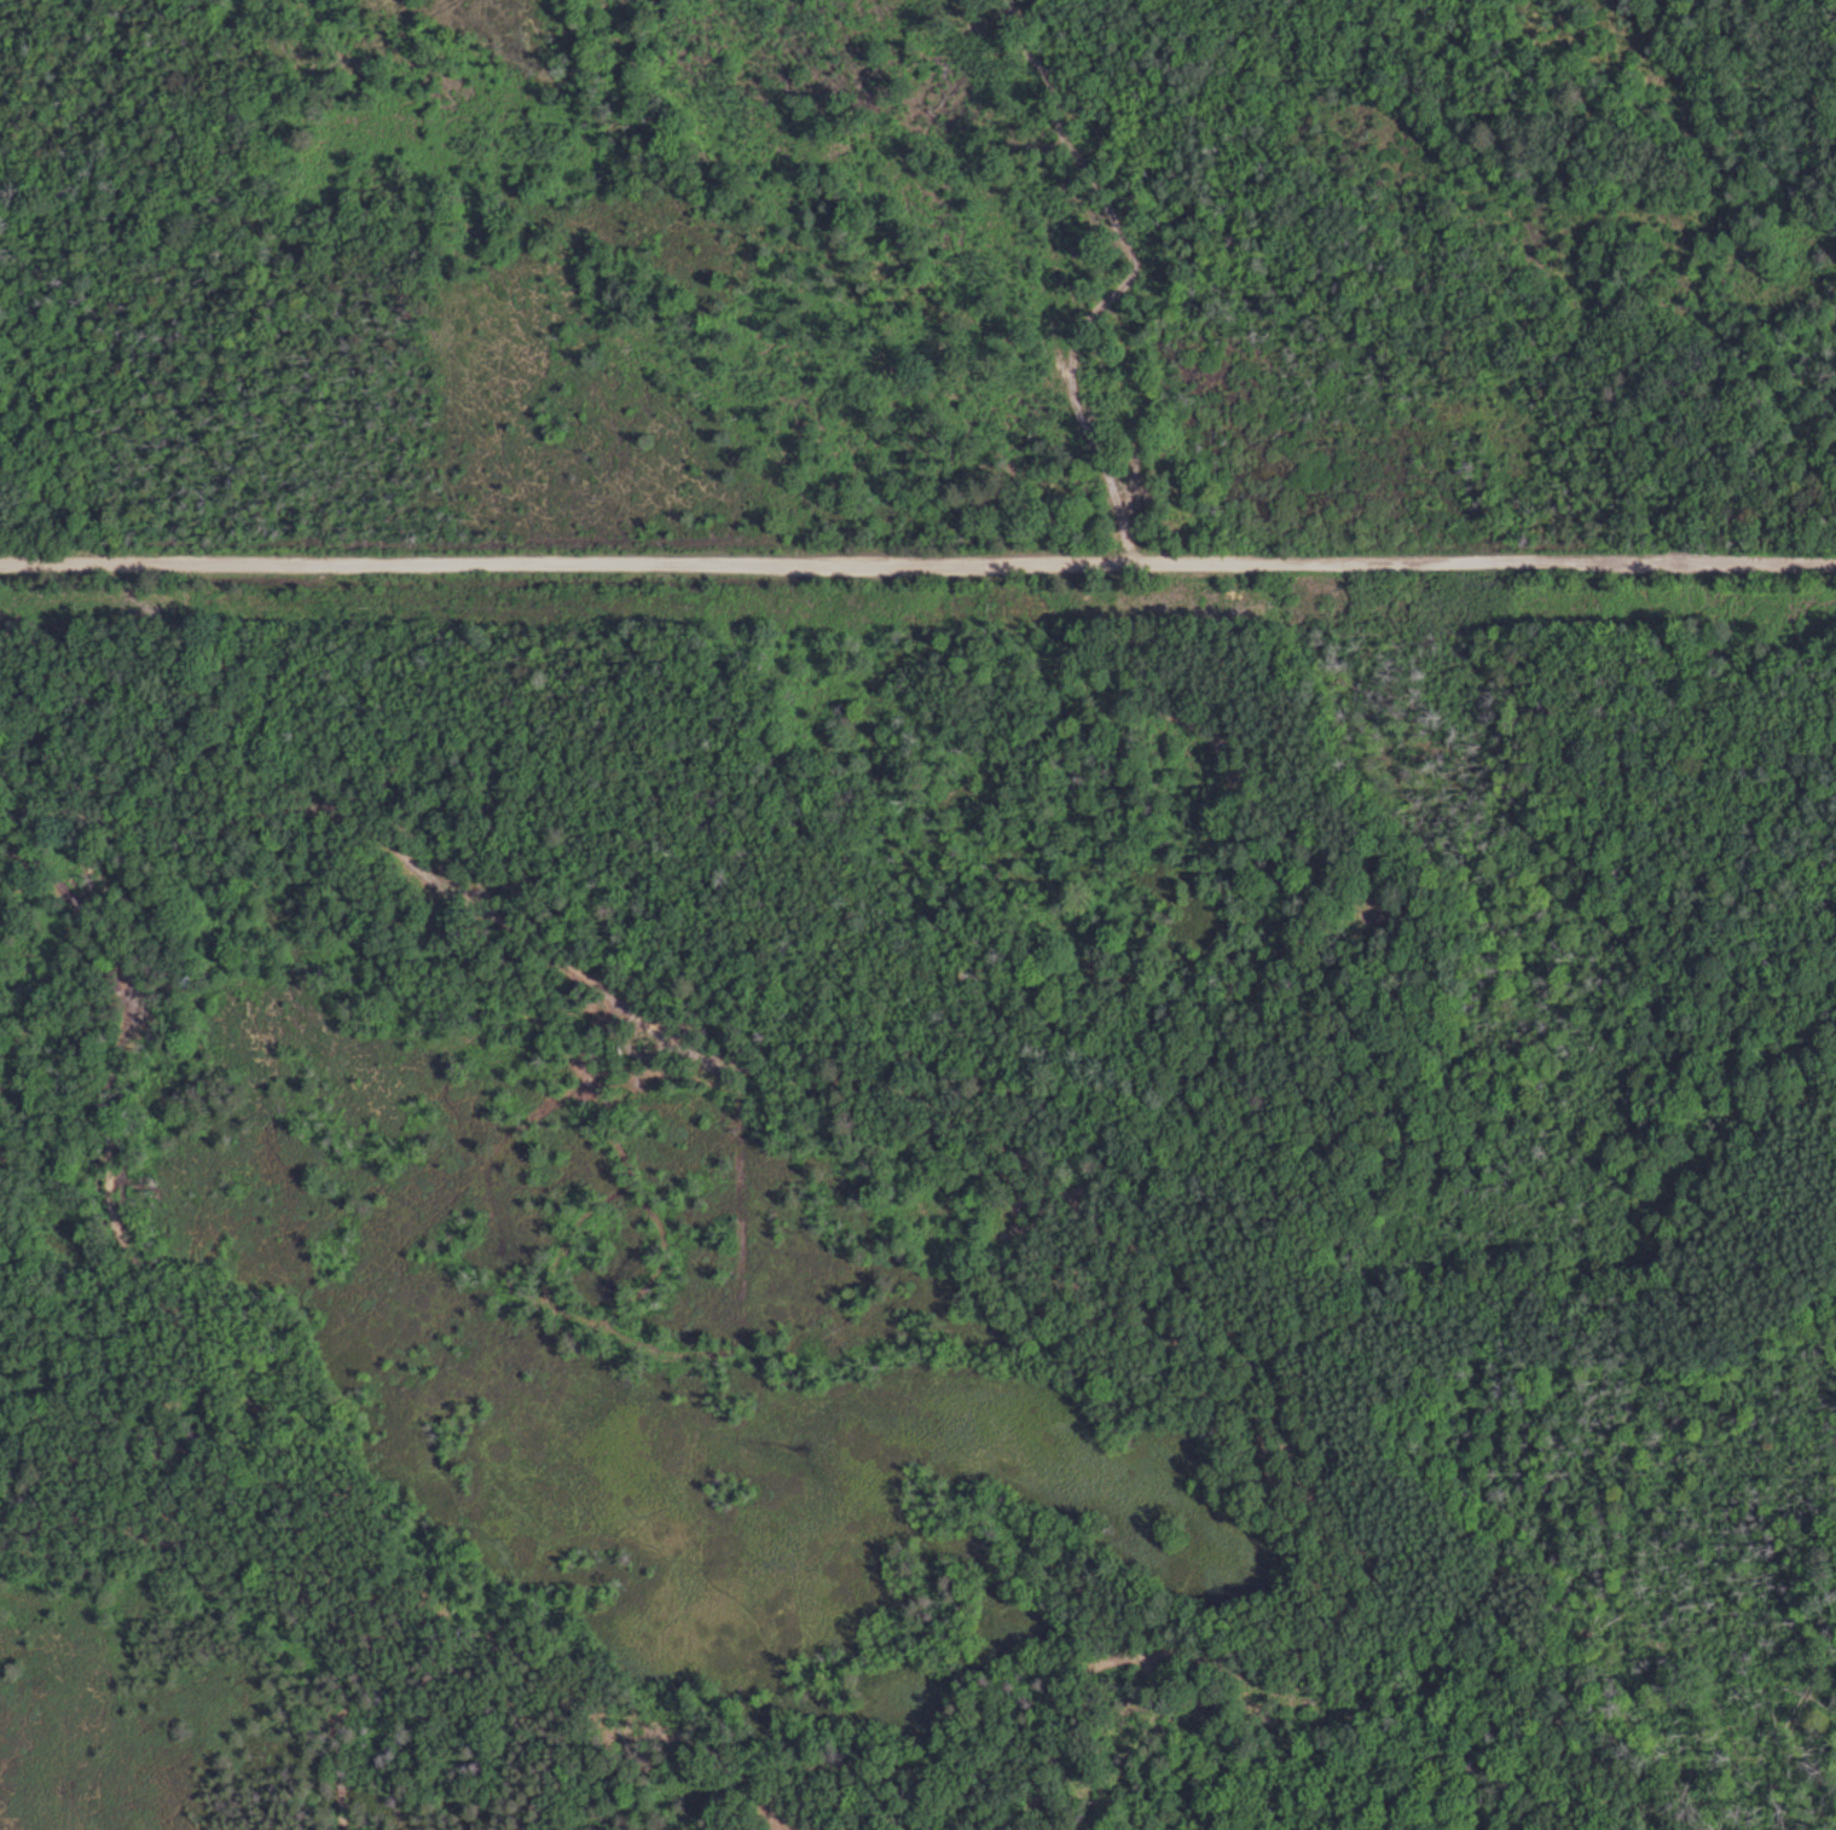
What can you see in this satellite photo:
road: (1129, 279)
road: (917, 562)
road: (969, 1119)
road: (1304, 1657)
road: (558, 1673)

